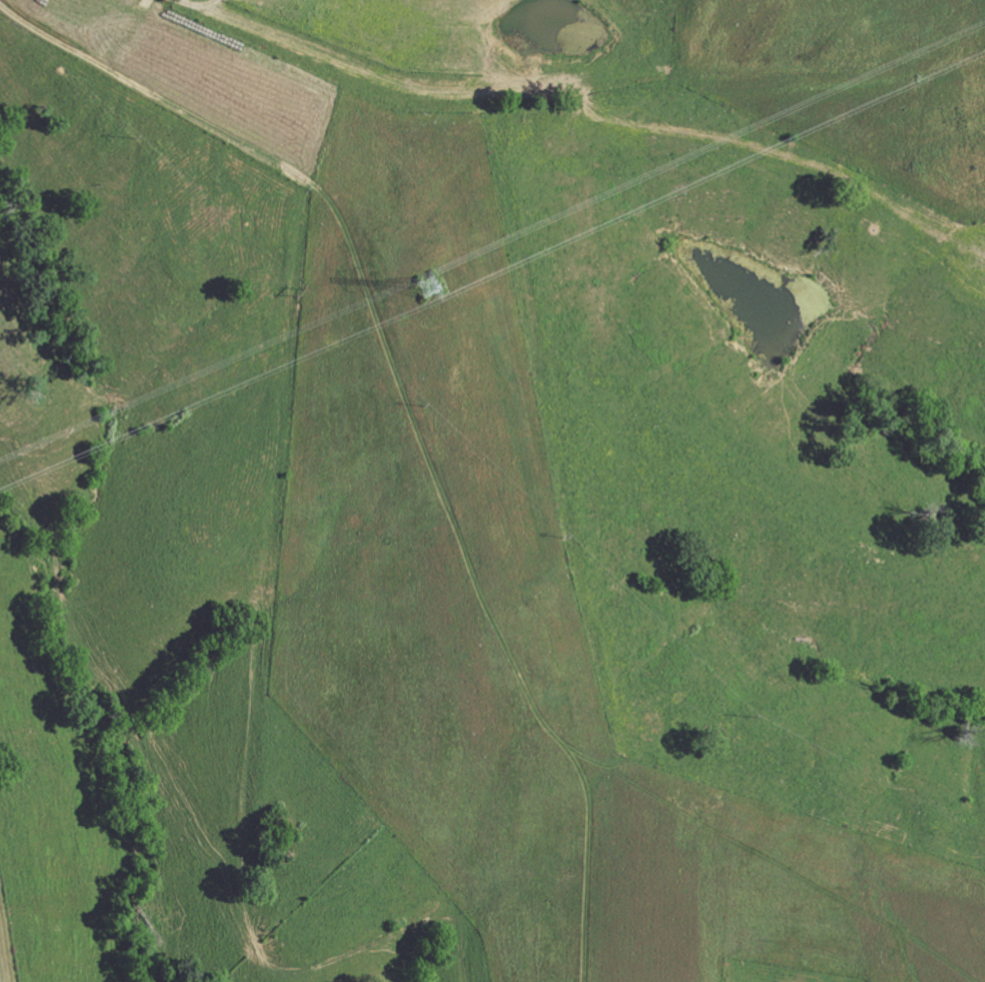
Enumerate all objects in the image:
power tower: (423, 284)

